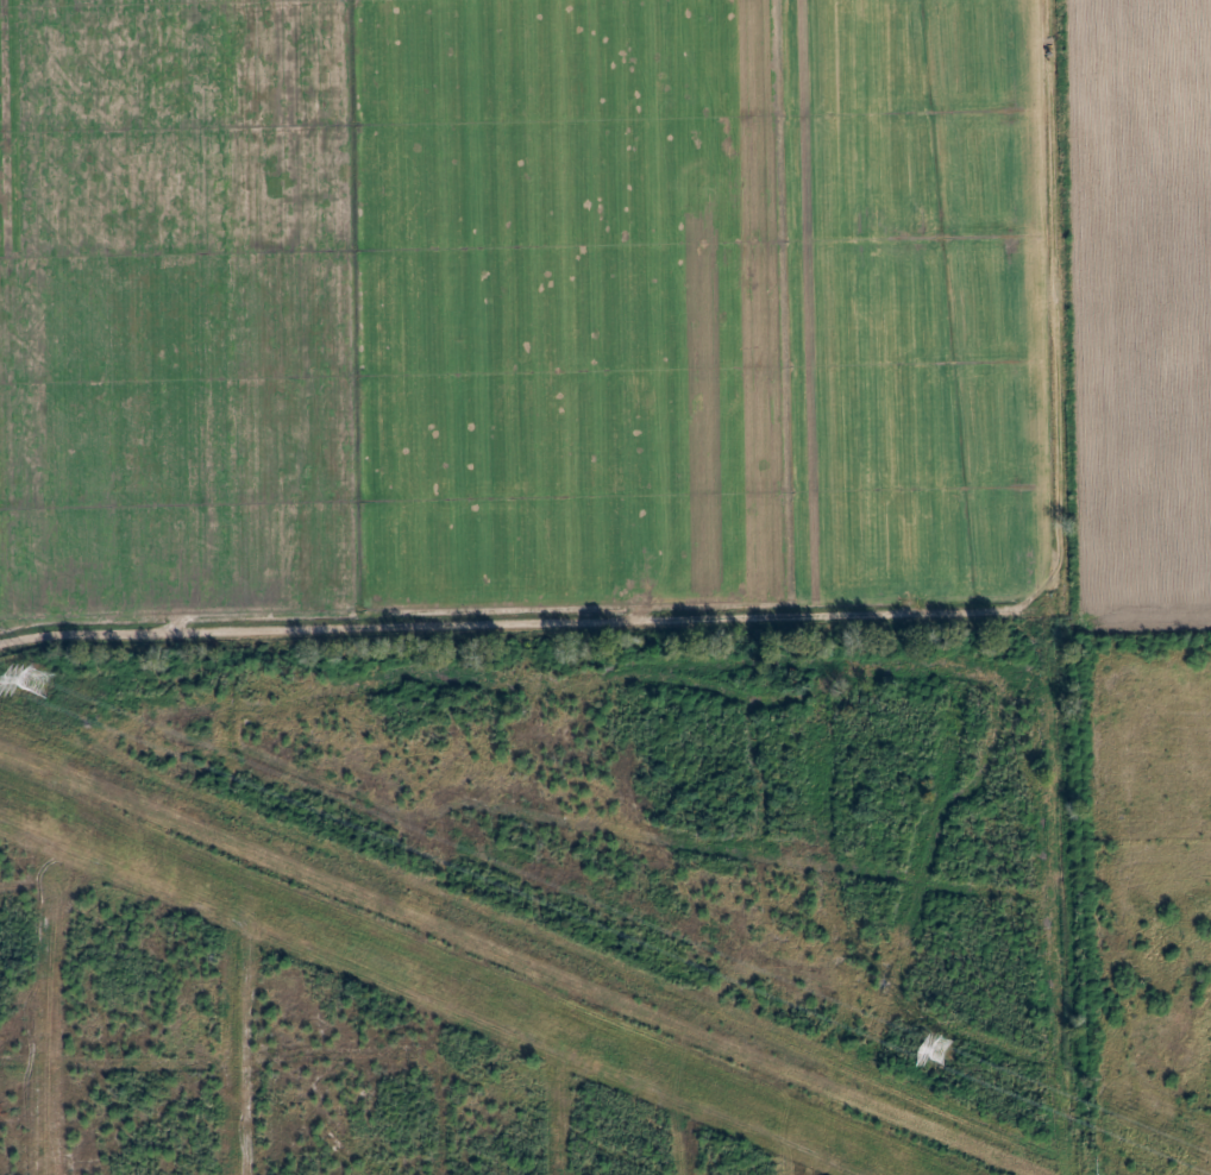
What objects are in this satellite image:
power tower: (32, 680)
power tower: (935, 1047)

